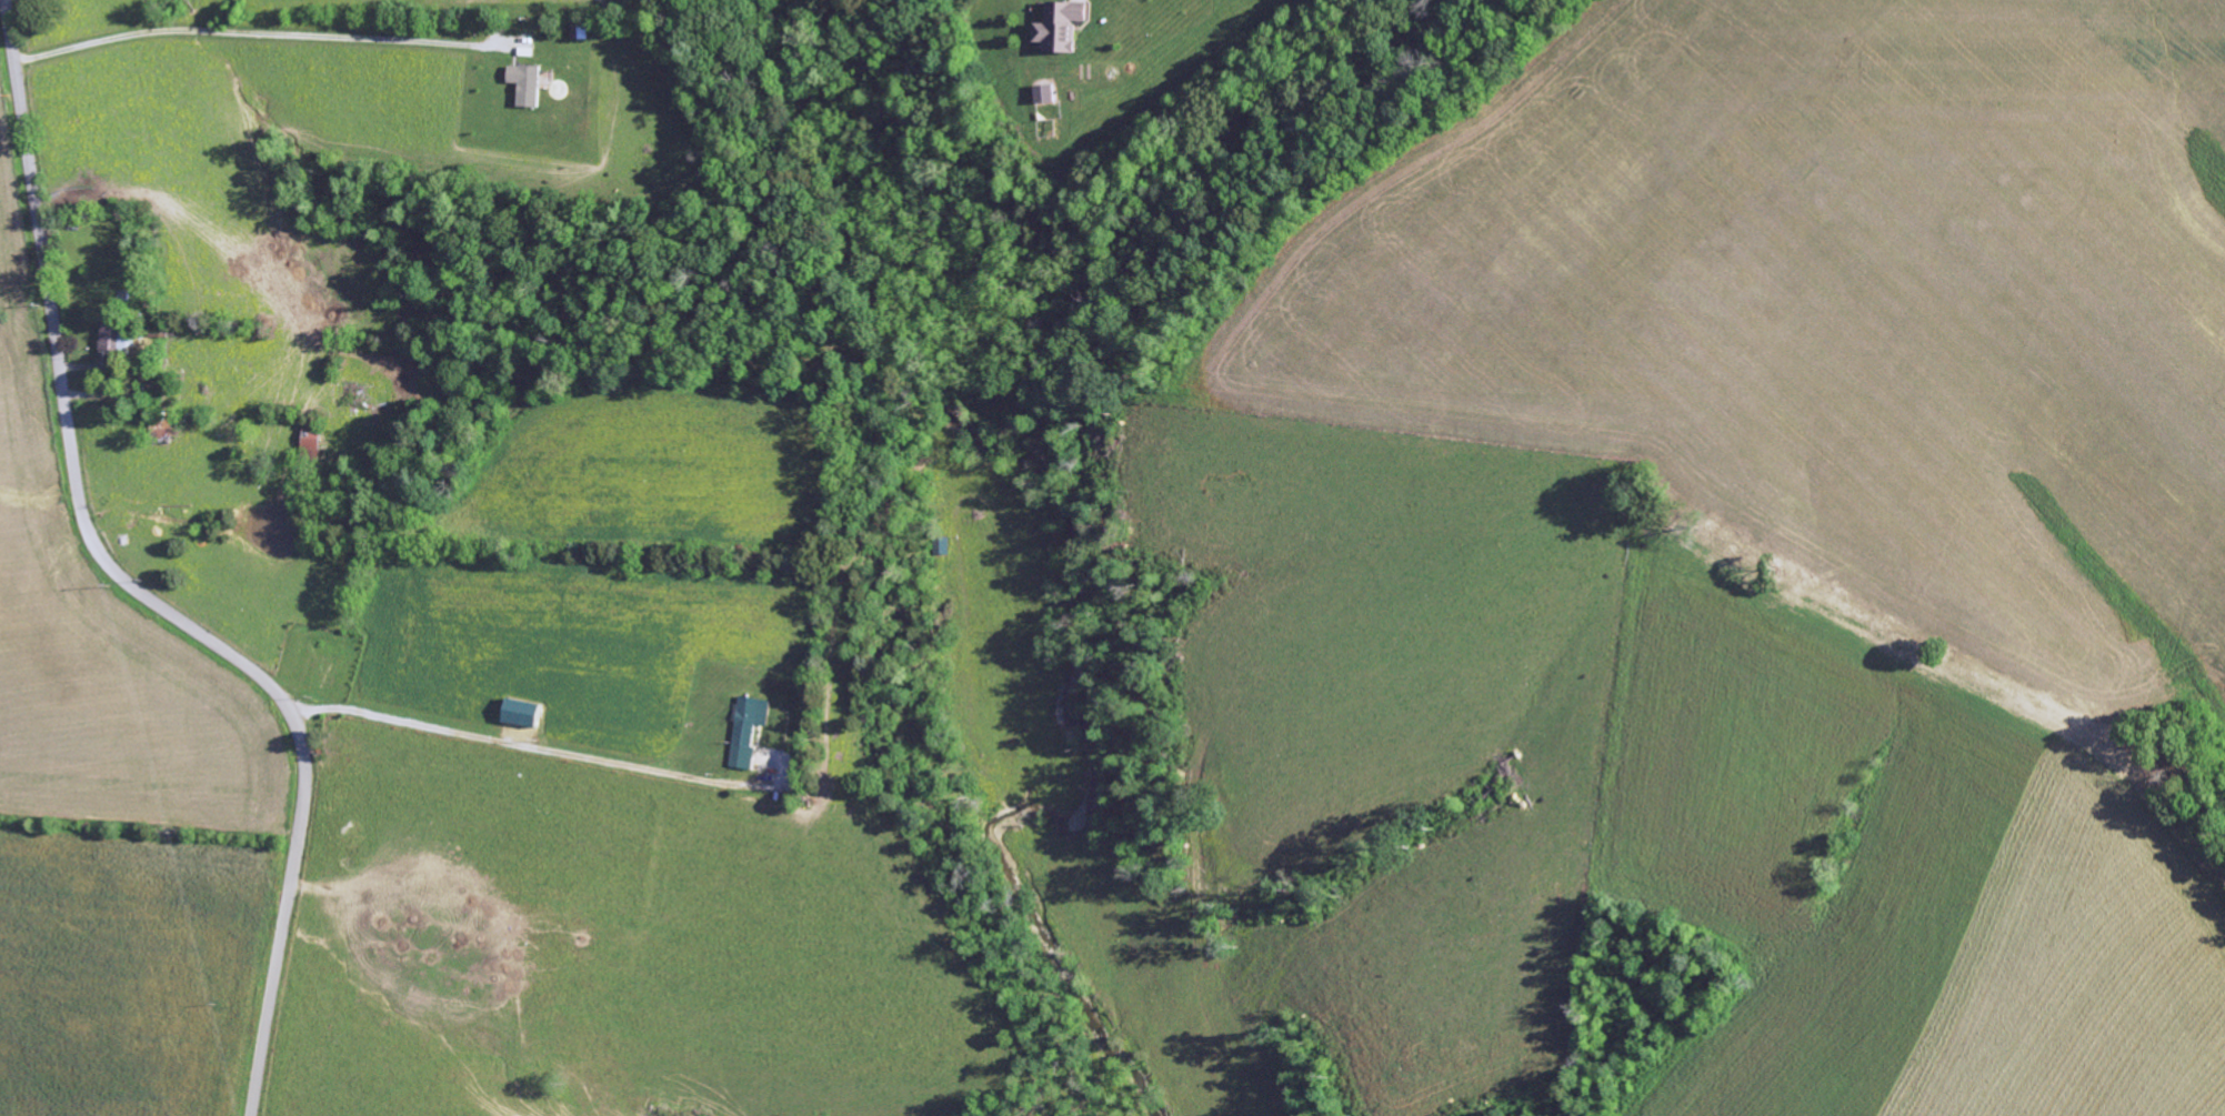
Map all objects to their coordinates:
building: (1058, 24)
building: (581, 30)
building: (527, 50)
building: (529, 82)
building: (1043, 92)
building: (163, 335)
building: (117, 340)
building: (149, 384)
building: (355, 392)
building: (162, 424)
building: (312, 440)
building: (941, 546)
road: (134, 585)
building: (524, 713)
building: (751, 728)
road: (541, 748)

